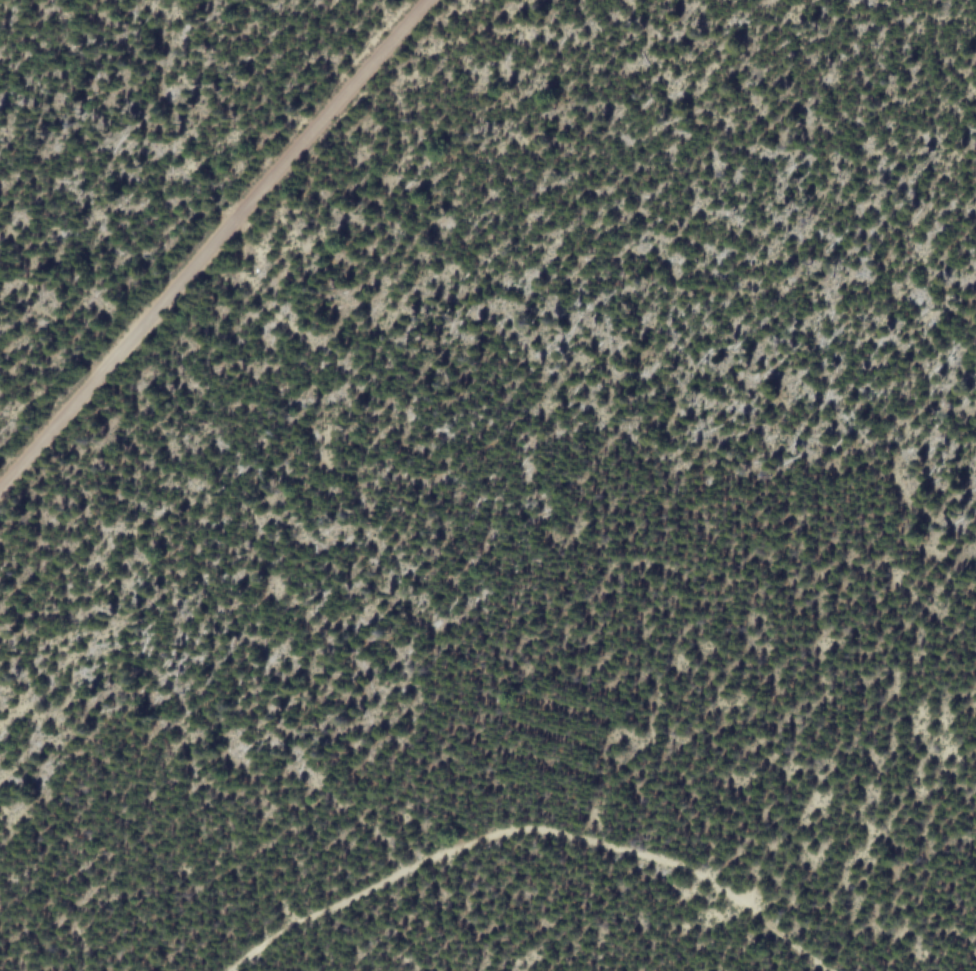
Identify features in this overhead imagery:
road: (212, 243)
road: (529, 828)

